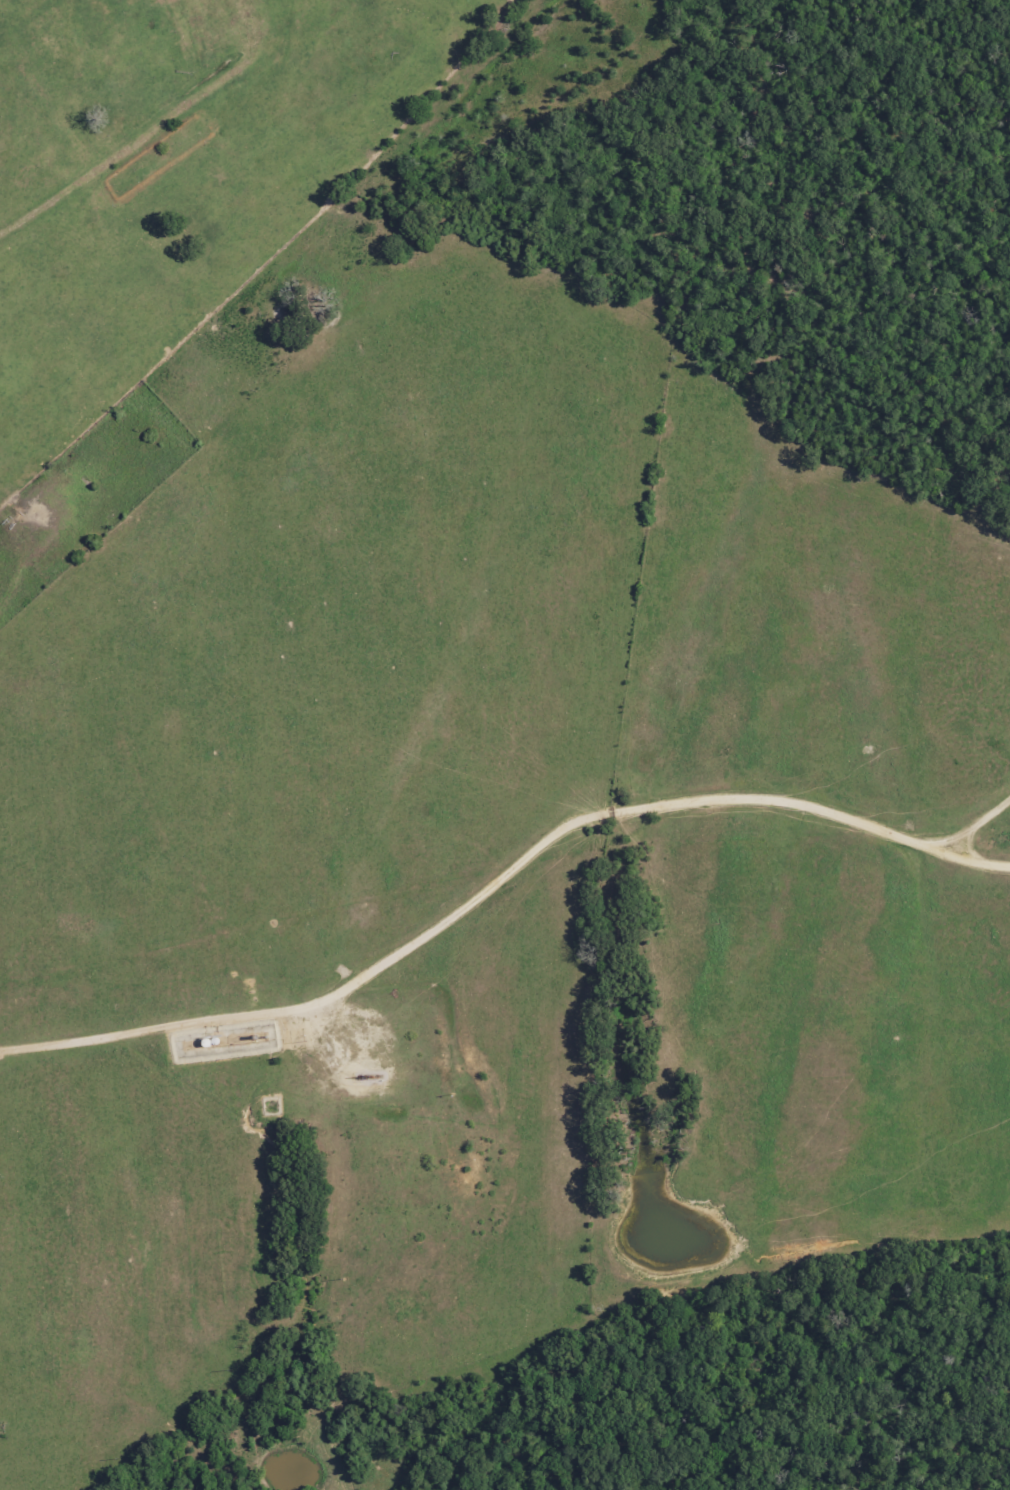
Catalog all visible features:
petroleum well: (370, 1077)

